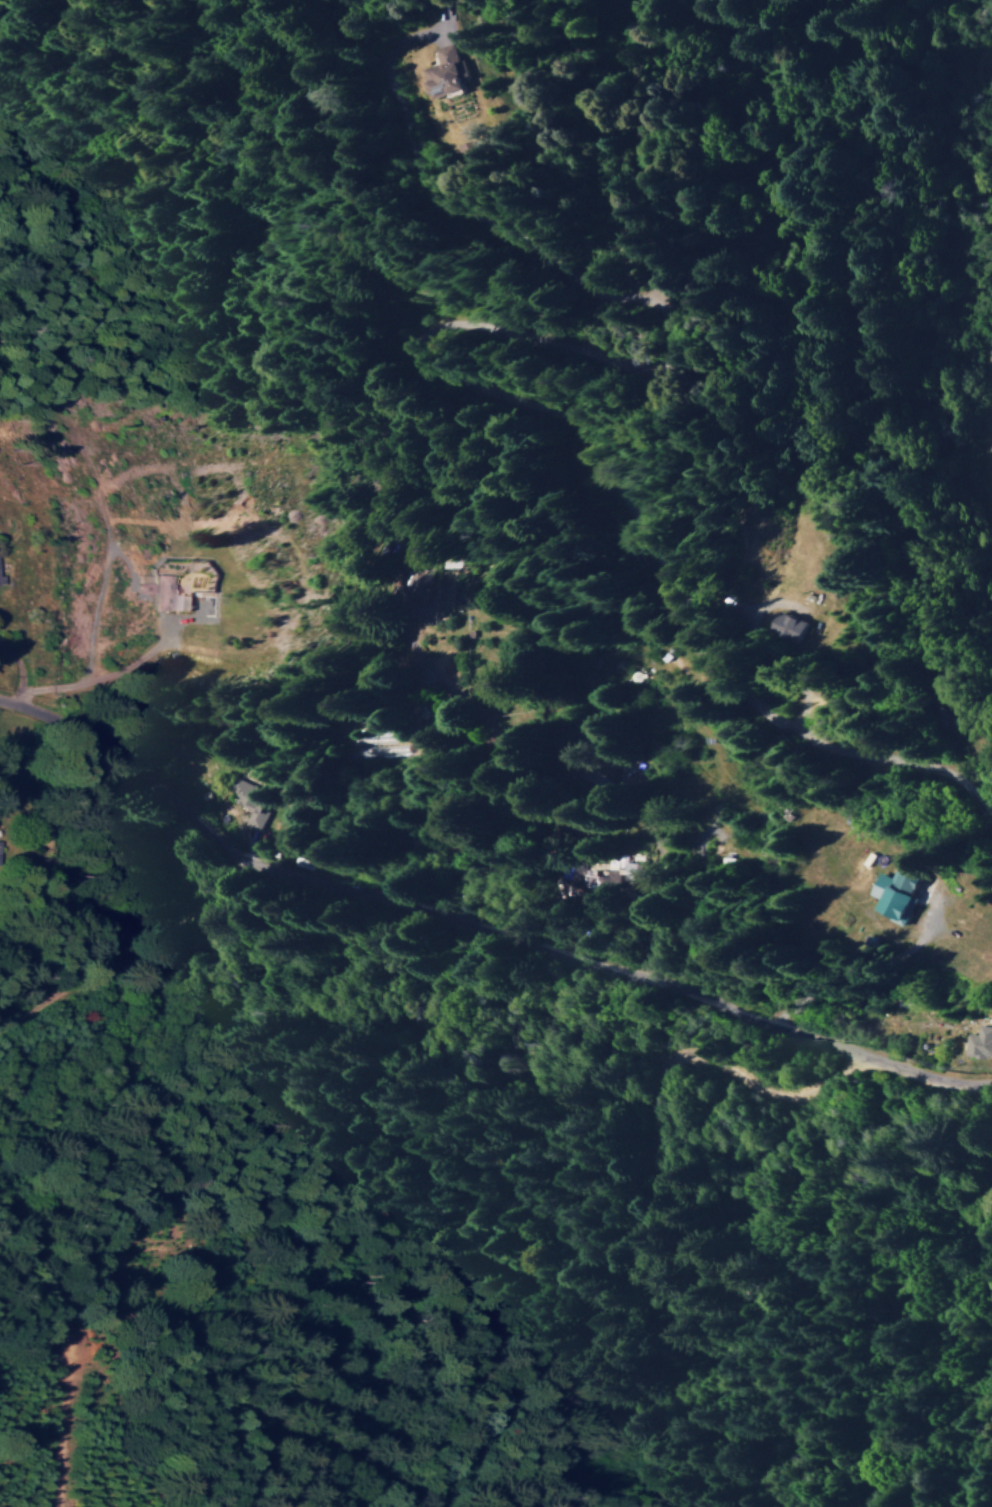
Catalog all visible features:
building: (448, 71)
building: (159, 590)
building: (795, 625)
building: (248, 801)
building: (898, 892)
road: (476, 936)
road: (125, 948)
building: (980, 1041)
road: (637, 1193)

